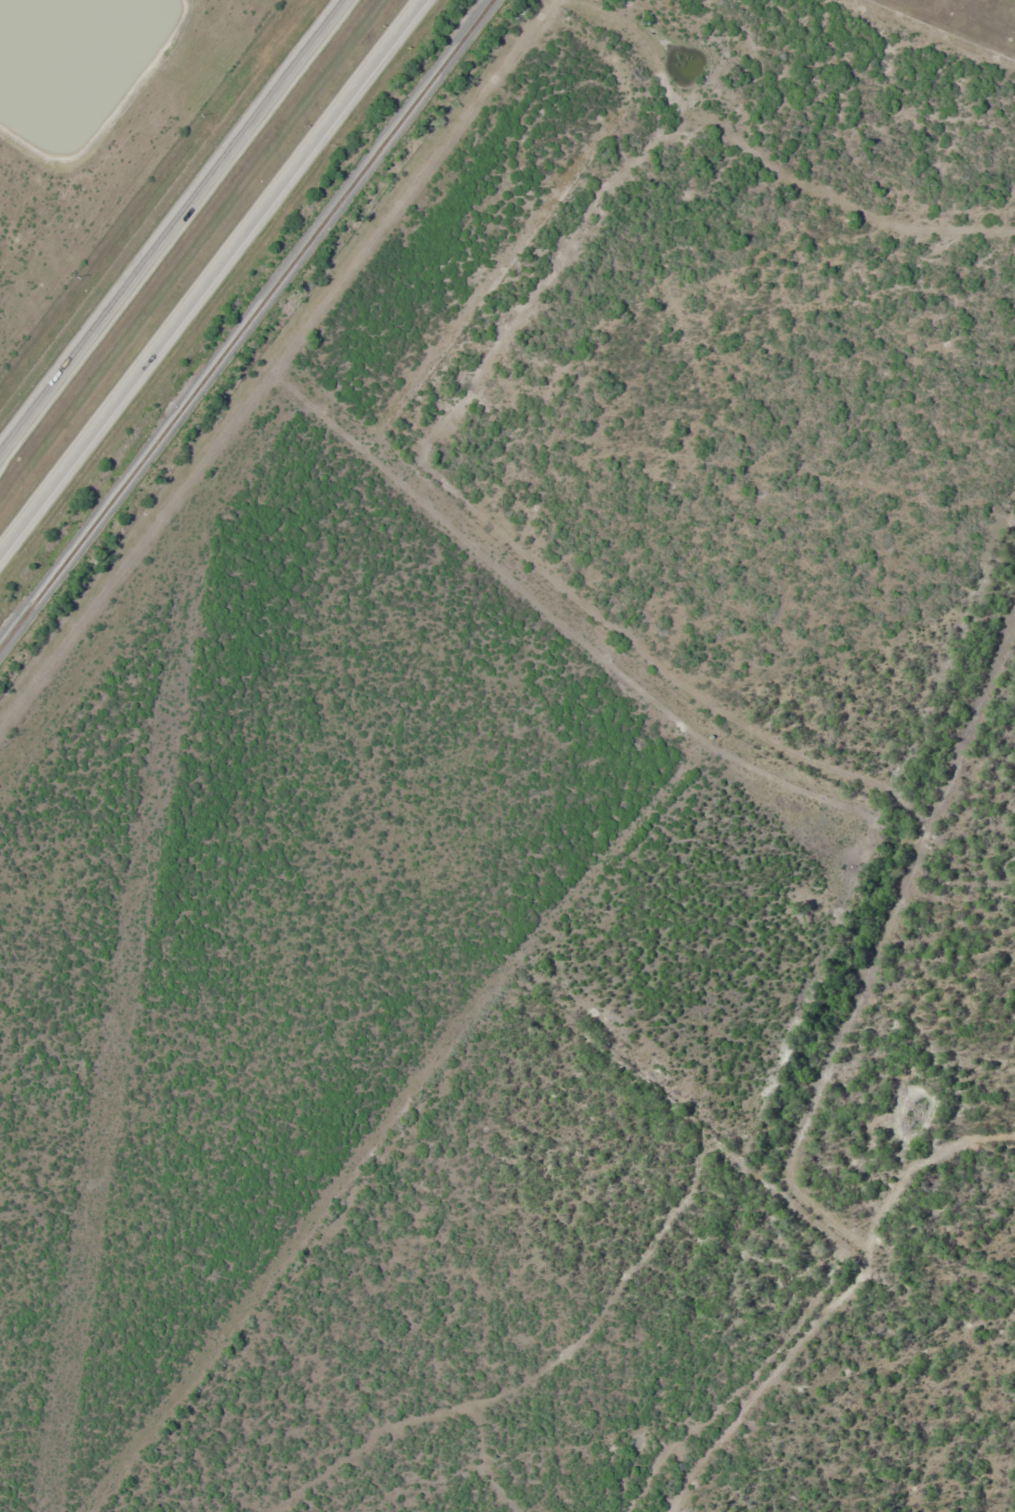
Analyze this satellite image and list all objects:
road: (171, 224)
road: (206, 272)
railway: (247, 326)
road: (276, 374)
road: (666, 715)

